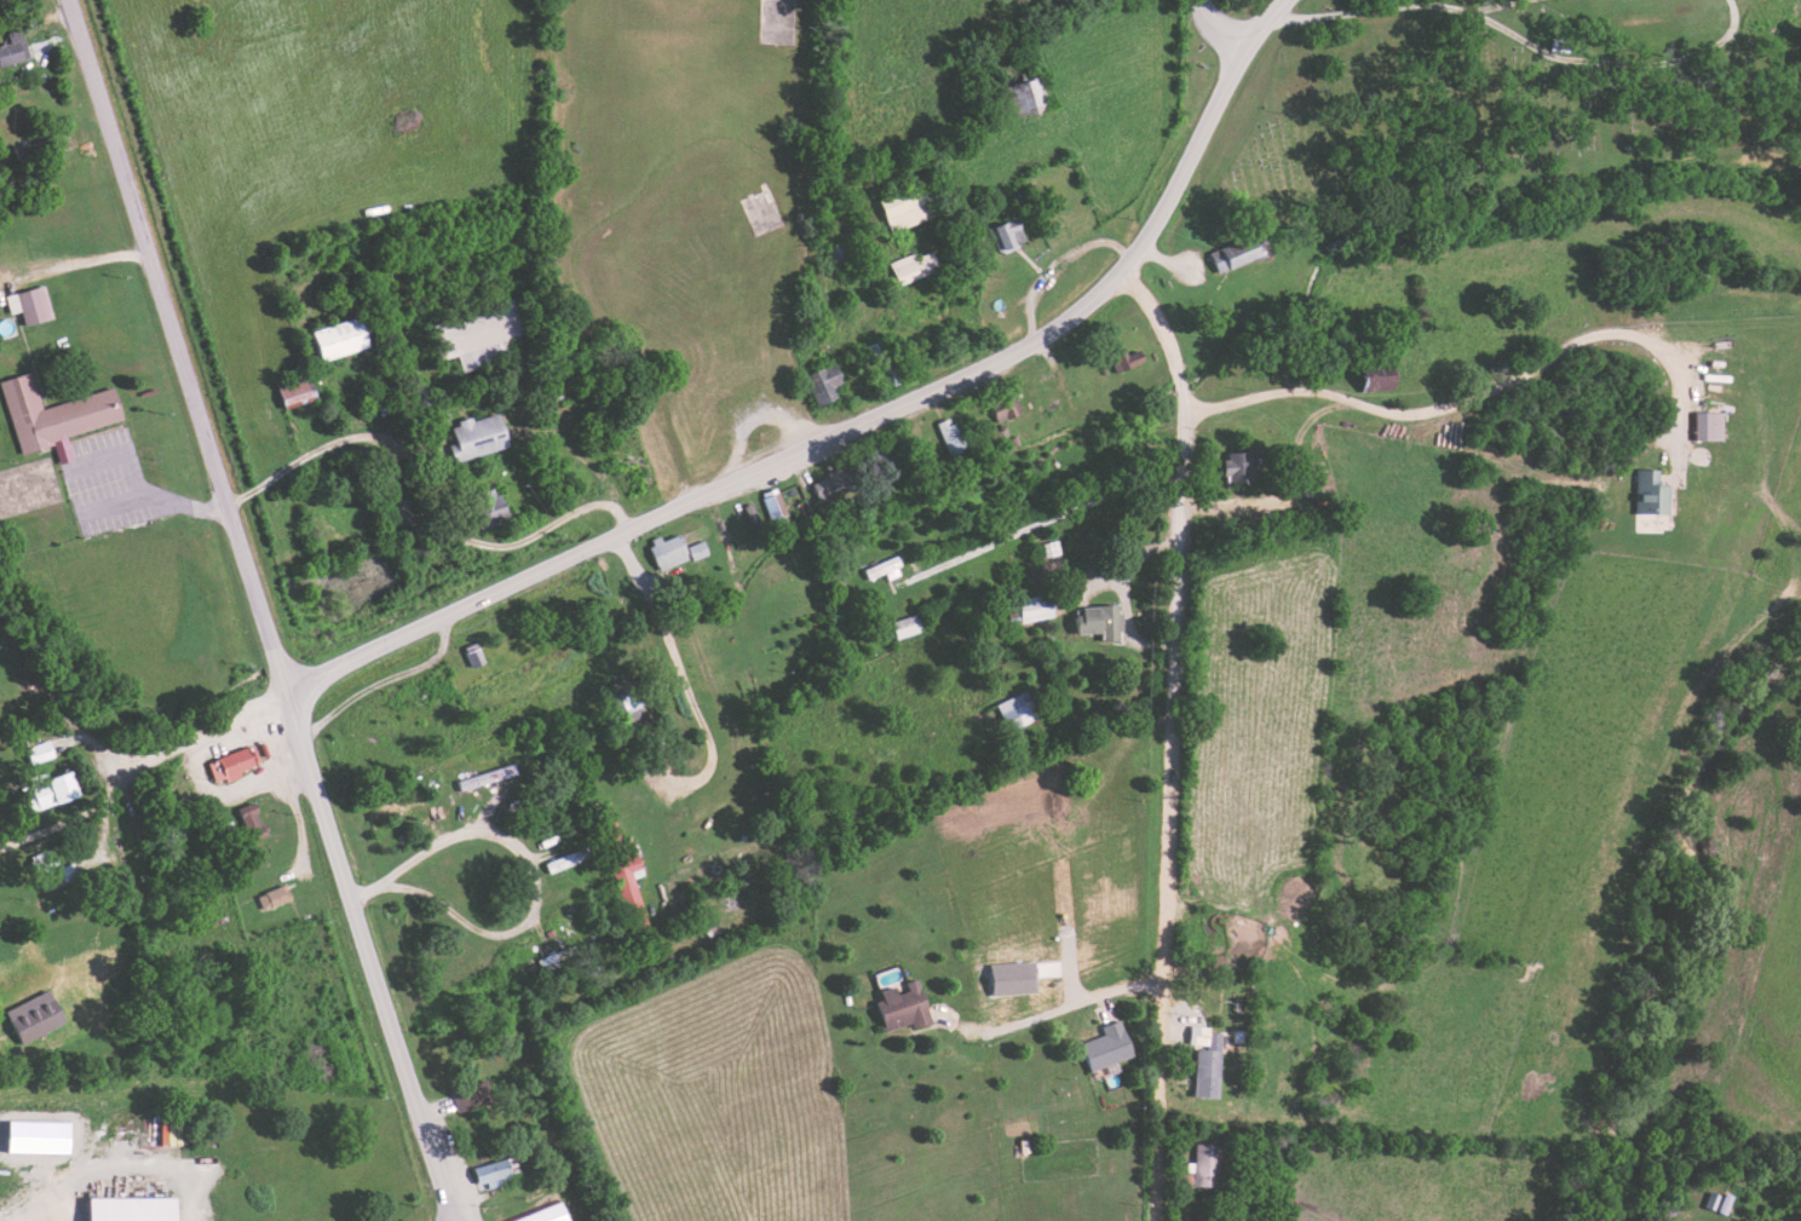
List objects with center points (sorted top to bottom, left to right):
road: (1450, 1)
road: (1353, 13)
road: (1212, 35)
building: (13, 47)
road: (1598, 61)
building: (1037, 87)
park: (1508, 108)
building: (1011, 234)
building: (1239, 253)
building: (915, 265)
road: (85, 266)
road: (1059, 270)
road: (606, 290)
building: (31, 304)
building: (344, 338)
road: (182, 350)
building: (1132, 358)
building: (1382, 376)
building: (827, 382)
building: (298, 390)
road: (1481, 397)
building: (56, 415)
road: (861, 419)
building: (1711, 426)
building: (481, 436)
building: (956, 436)
building: (838, 484)
building: (1653, 493)
building: (777, 505)
road: (1047, 523)
road: (554, 524)
building: (701, 549)
building: (672, 551)
building: (885, 568)
building: (1037, 610)
building: (1099, 621)
building: (908, 626)
building: (633, 701)
building: (1018, 710)
road: (719, 725)
road: (1181, 735)
road: (146, 748)
building: (41, 751)
building: (234, 764)
building: (58, 790)
building: (253, 820)
building: (568, 860)
road: (524, 865)
building: (633, 886)
building: (274, 897)
road: (372, 960)
building: (905, 1006)
road: (1057, 1009)
building: (1109, 1046)
building: (1210, 1067)
building: (474, 1096)
building: (40, 1136)
road: (122, 1164)
building: (1207, 1164)
building: (495, 1173)
building: (134, 1209)
building: (548, 1214)

